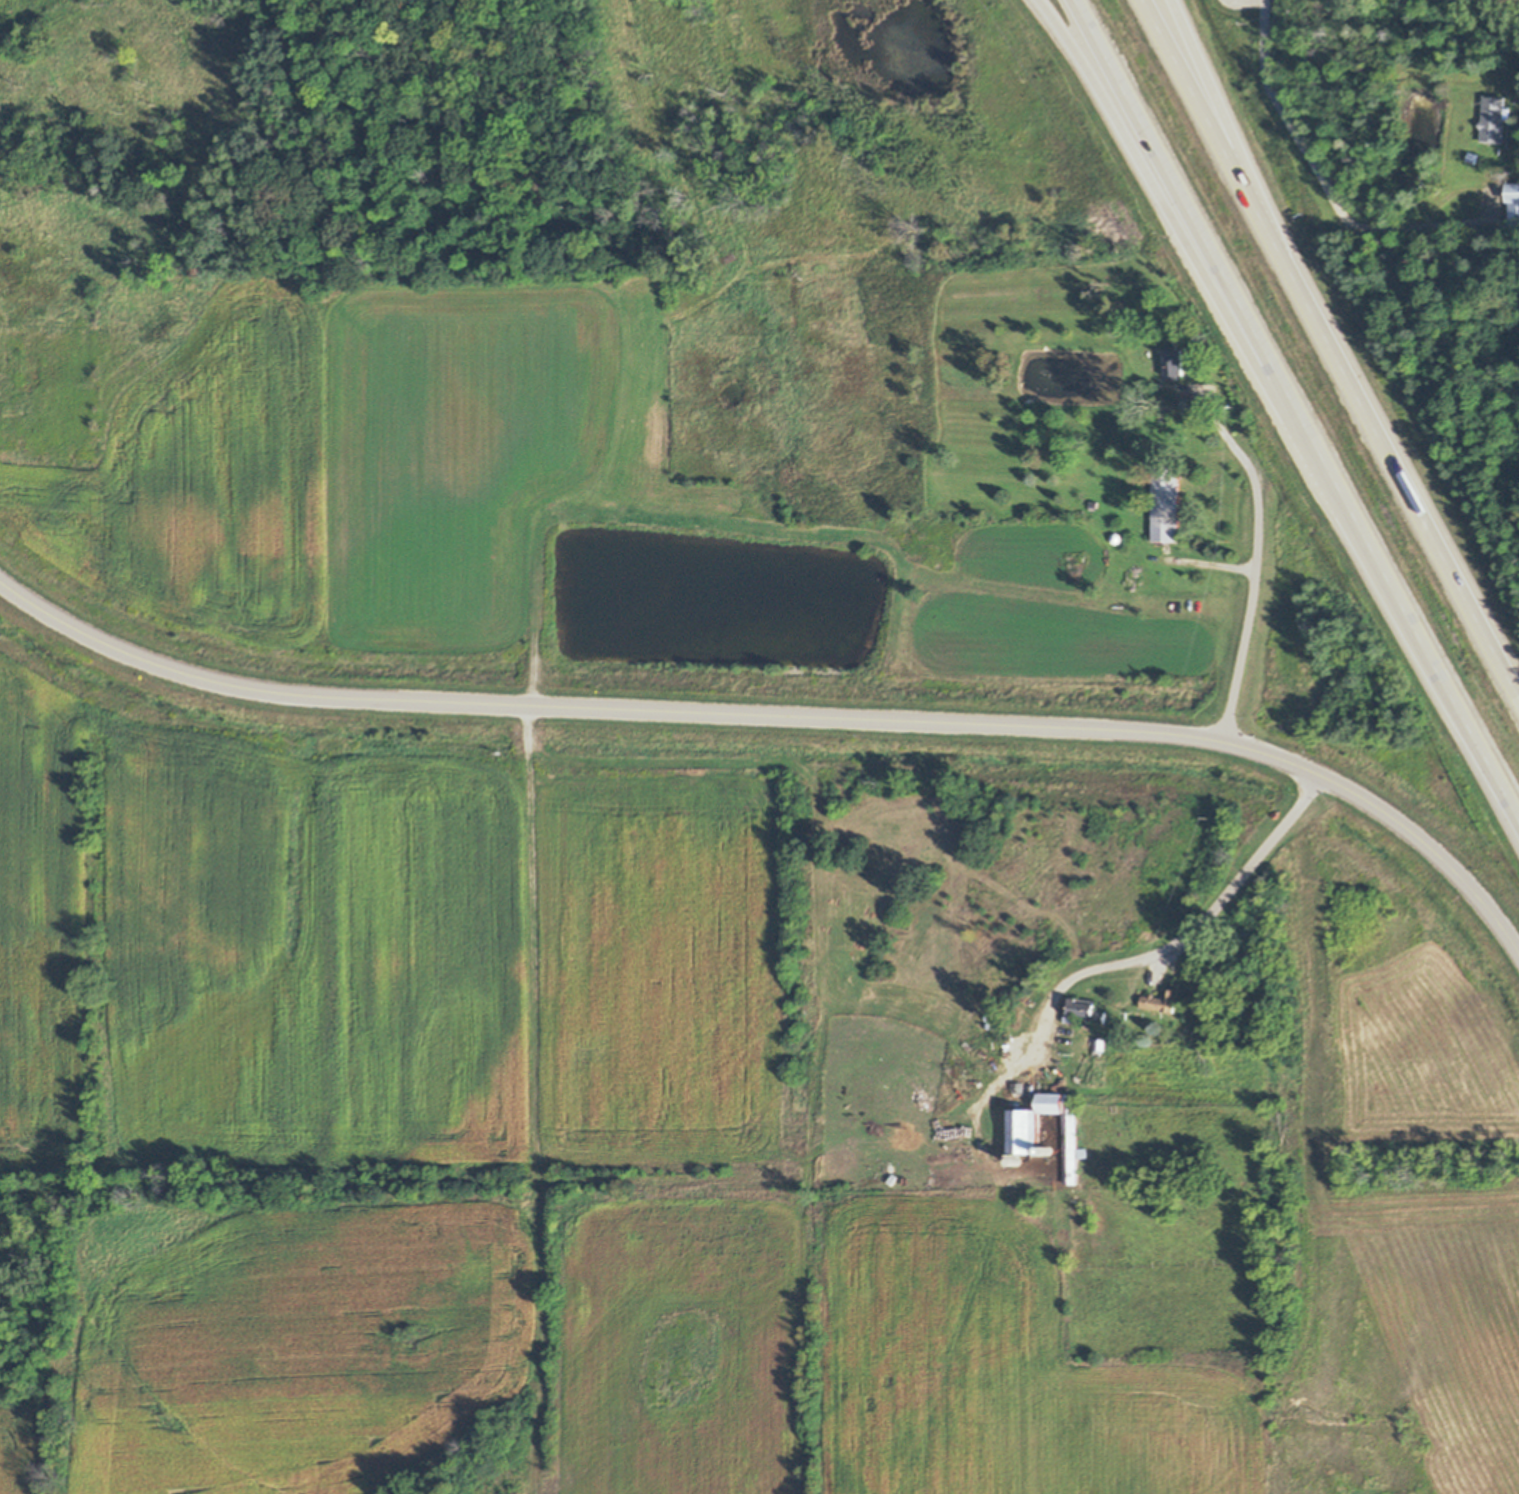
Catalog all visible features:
road: (1213, 104)
road: (1121, 113)
building: (1494, 118)
building: (1472, 157)
road: (1323, 183)
building: (1513, 204)
road: (1256, 208)
road: (1196, 221)
building: (1174, 362)
road: (1225, 438)
building: (1165, 503)
building: (1094, 504)
road: (1444, 553)
road: (1247, 617)
road: (1418, 630)
road: (790, 713)
road: (1190, 933)
building: (1163, 1000)
building: (1087, 1010)
building: (1188, 1033)
building: (1099, 1045)
building: (995, 1058)
building: (1024, 1132)
building: (1051, 1150)

